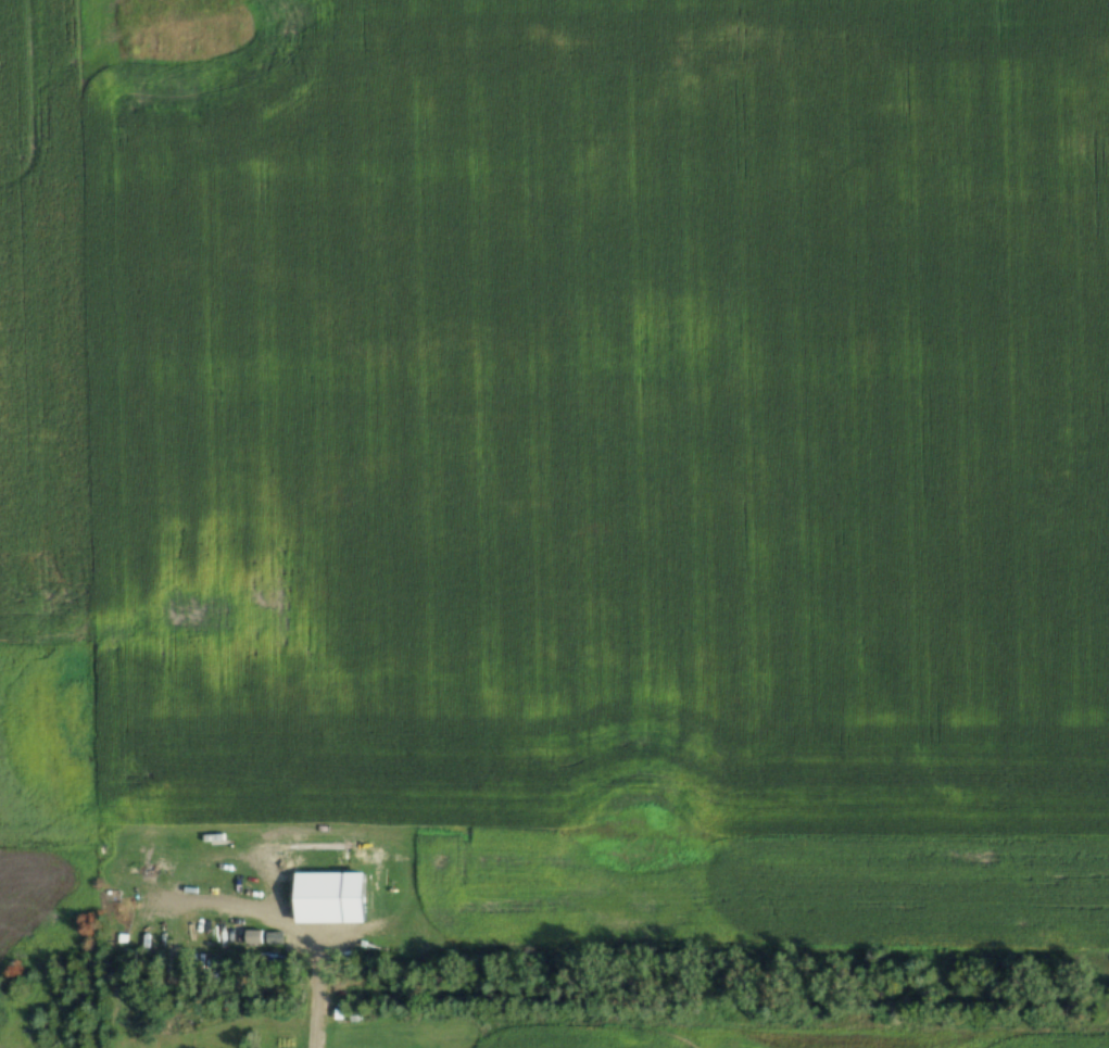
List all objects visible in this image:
building: (277, 936)

